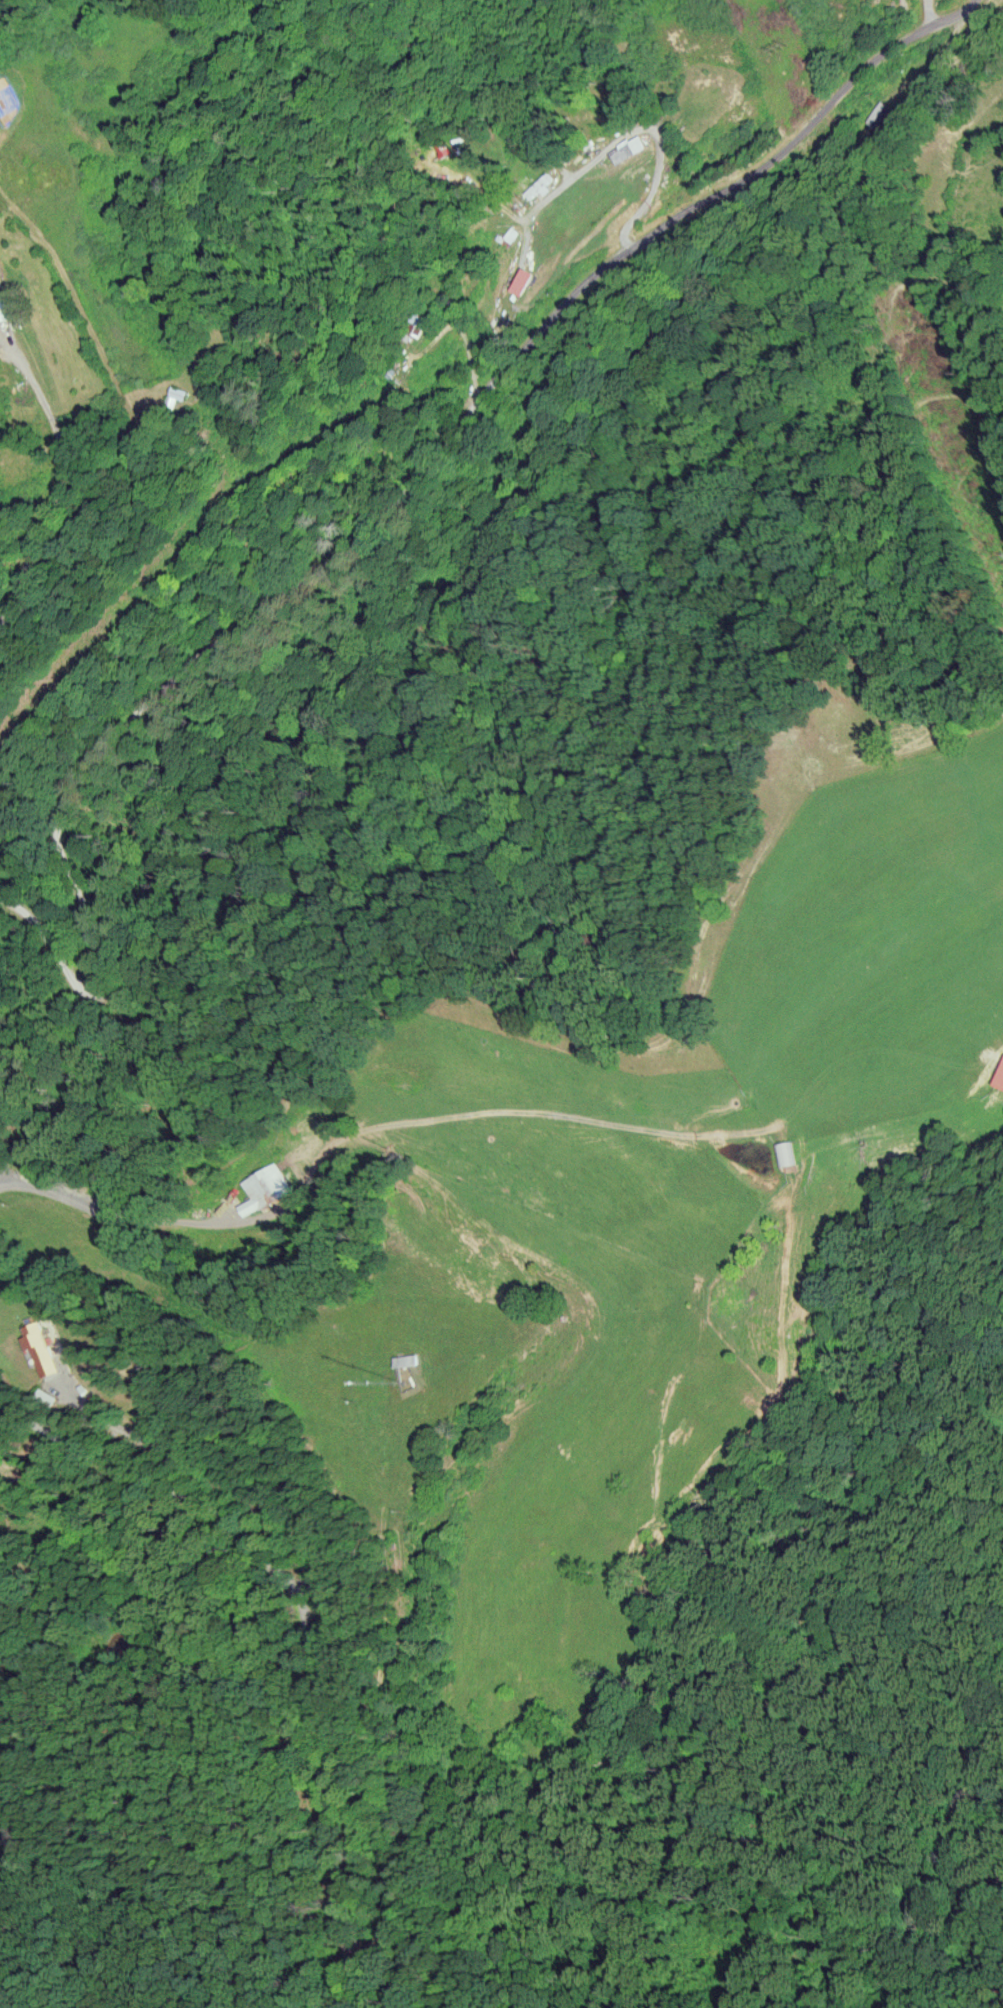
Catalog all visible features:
power tower: (785, 41)
building: (424, 317)
building: (2, 331)
road: (58, 488)
road: (386, 510)
building: (1001, 1080)
building: (787, 1152)
building: (269, 1186)
building: (109, 1201)
road: (174, 1219)
building: (44, 1347)
road: (298, 1623)

